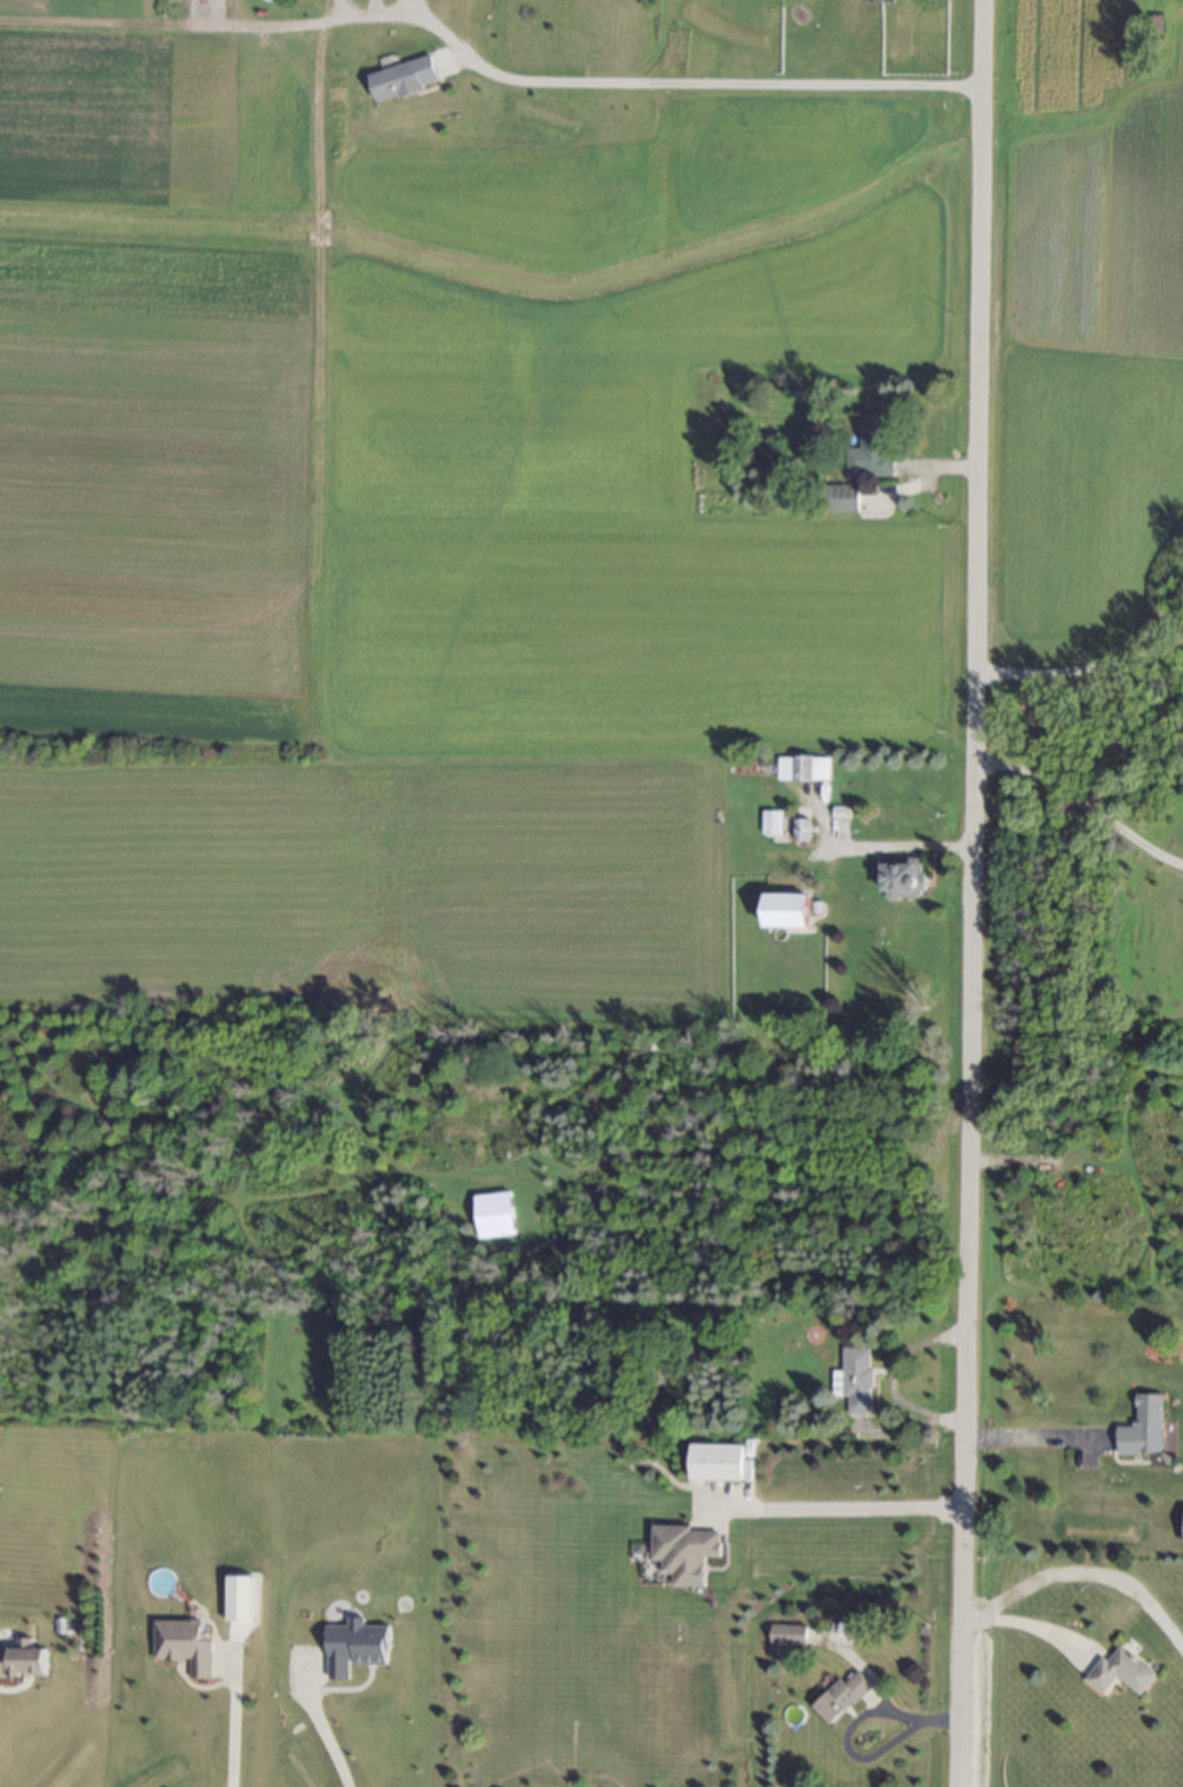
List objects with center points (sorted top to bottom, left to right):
building: (883, 0)
building: (403, 80)
road: (651, 87)
crop: (1087, 324)
building: (872, 446)
building: (842, 498)
crop: (409, 521)
road: (1077, 675)
building: (803, 768)
road: (1080, 808)
building: (771, 822)
building: (801, 829)
building: (904, 880)
road: (968, 893)
building: (787, 910)
building: (494, 1215)
building: (856, 1380)
building: (1143, 1427)
road: (1032, 1439)
building: (717, 1462)
road: (835, 1509)
building: (685, 1553)
road: (1081, 1571)
building: (161, 1582)
building: (241, 1598)
road: (1023, 1621)
building: (786, 1640)
building: (185, 1646)
building: (355, 1647)
building: (24, 1660)
building: (1120, 1672)
building: (840, 1697)
road: (320, 1721)
road: (230, 1725)

